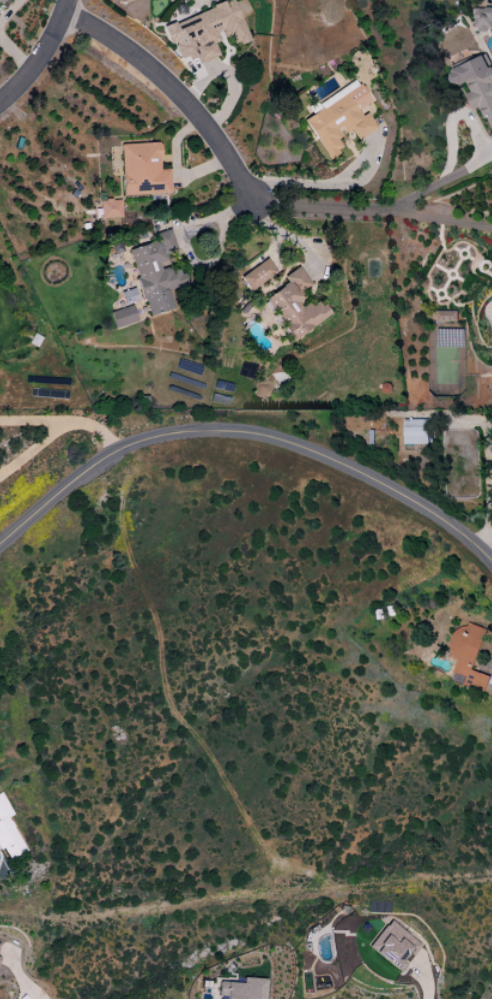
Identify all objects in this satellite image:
building: (1, 1)
building: (121, 1)
road: (62, 8)
building: (482, 18)
building: (204, 32)
road: (35, 61)
building: (476, 84)
road: (169, 89)
building: (337, 118)
road: (473, 140)
building: (141, 170)
building: (108, 209)
road: (368, 209)
road: (208, 217)
building: (154, 273)
building: (252, 276)
building: (294, 306)
building: (445, 315)
building: (121, 317)
road: (65, 419)
building: (415, 430)
road: (245, 431)
road: (33, 446)
road: (488, 469)
building: (467, 655)
building: (8, 833)
building: (395, 946)
road: (36, 989)
building: (242, 989)
road: (424, 989)

